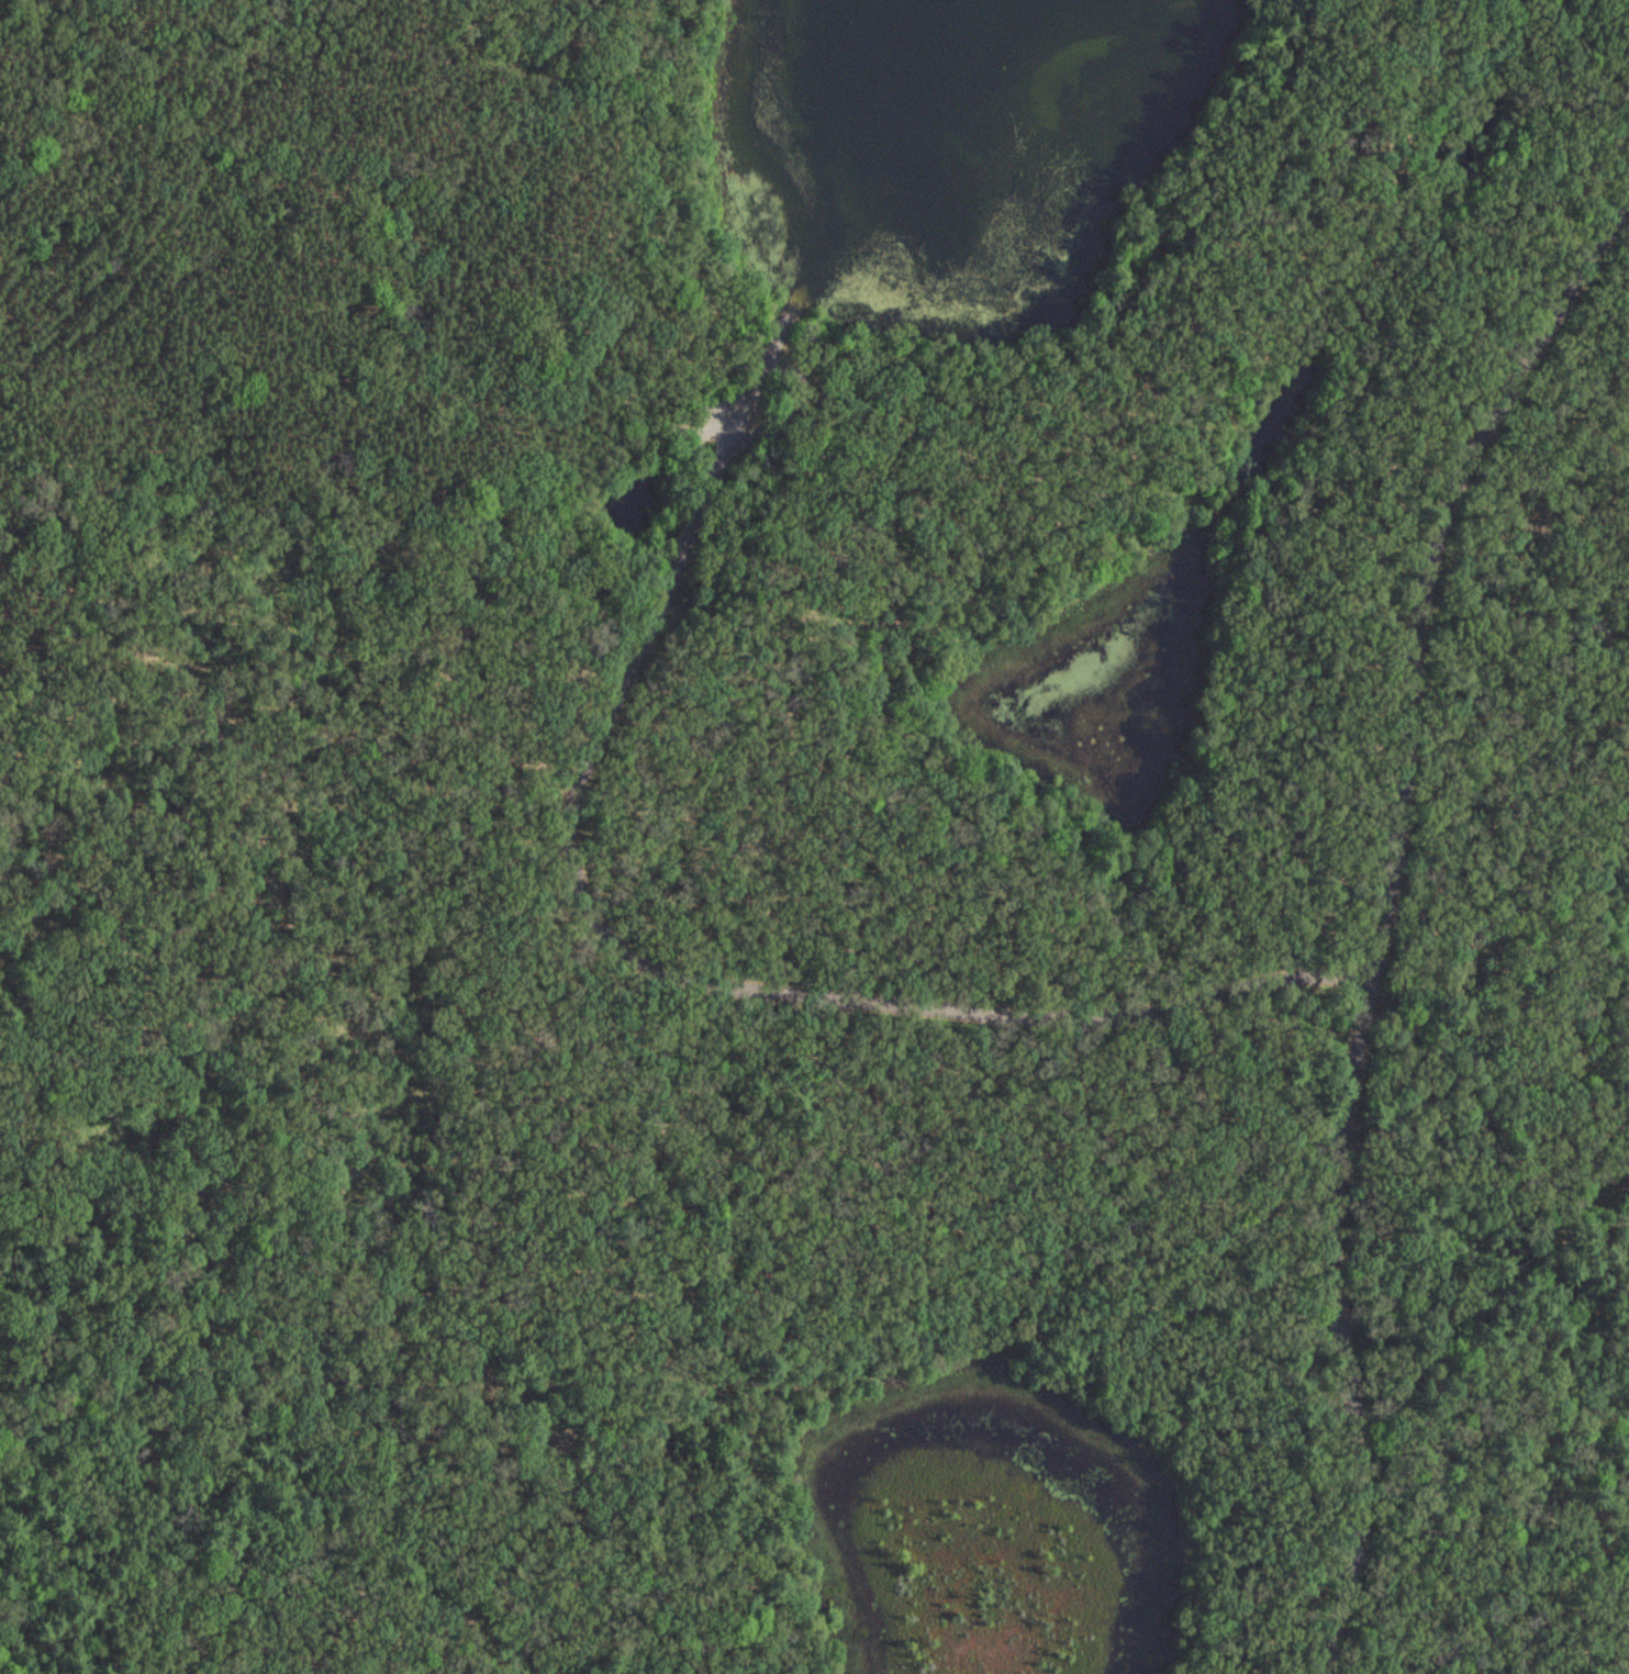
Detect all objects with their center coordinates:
road: (1224, 271)
parking lot: (681, 476)
road: (768, 884)
road: (1377, 906)
road: (646, 959)

